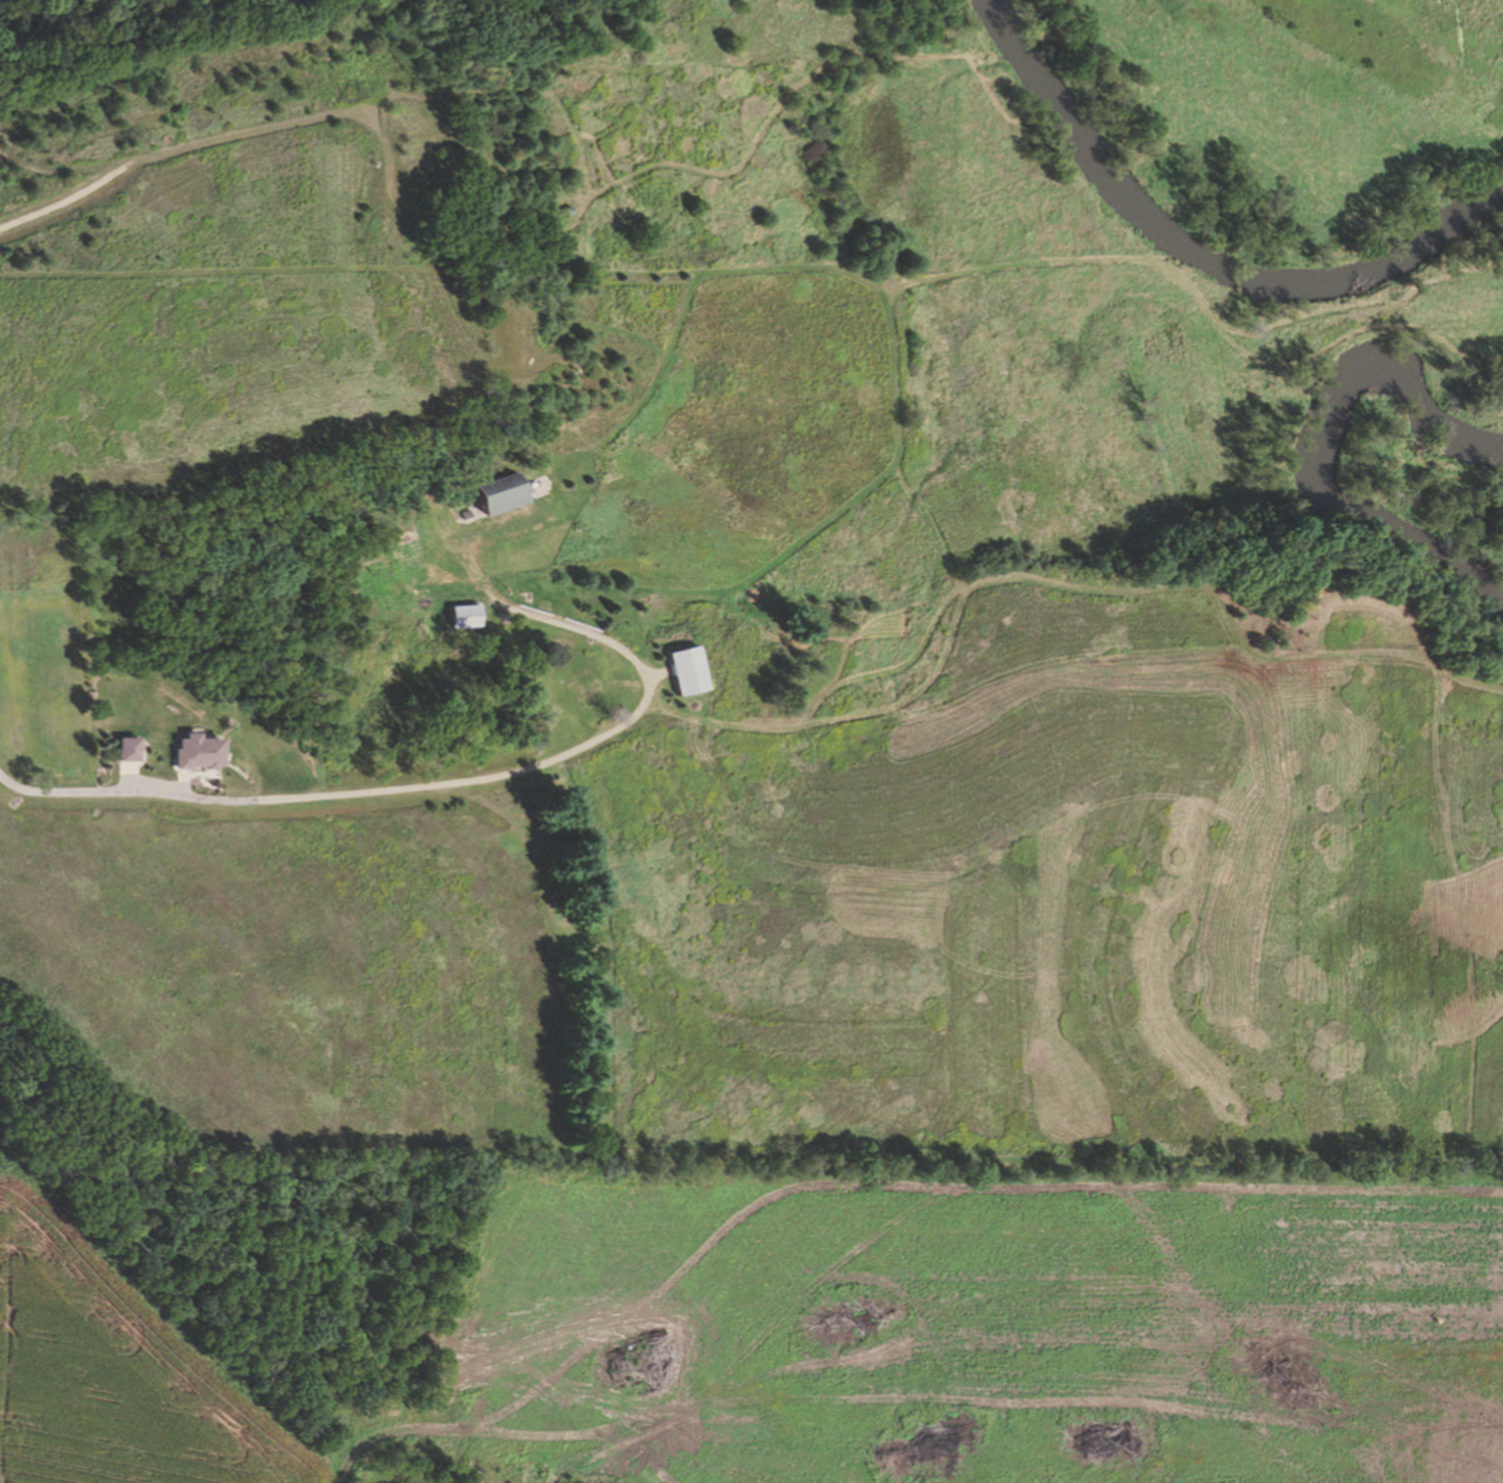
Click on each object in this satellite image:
river: (1191, 252)
river: (1319, 464)
building: (489, 494)
building: (461, 615)
building: (679, 670)
road: (297, 781)

